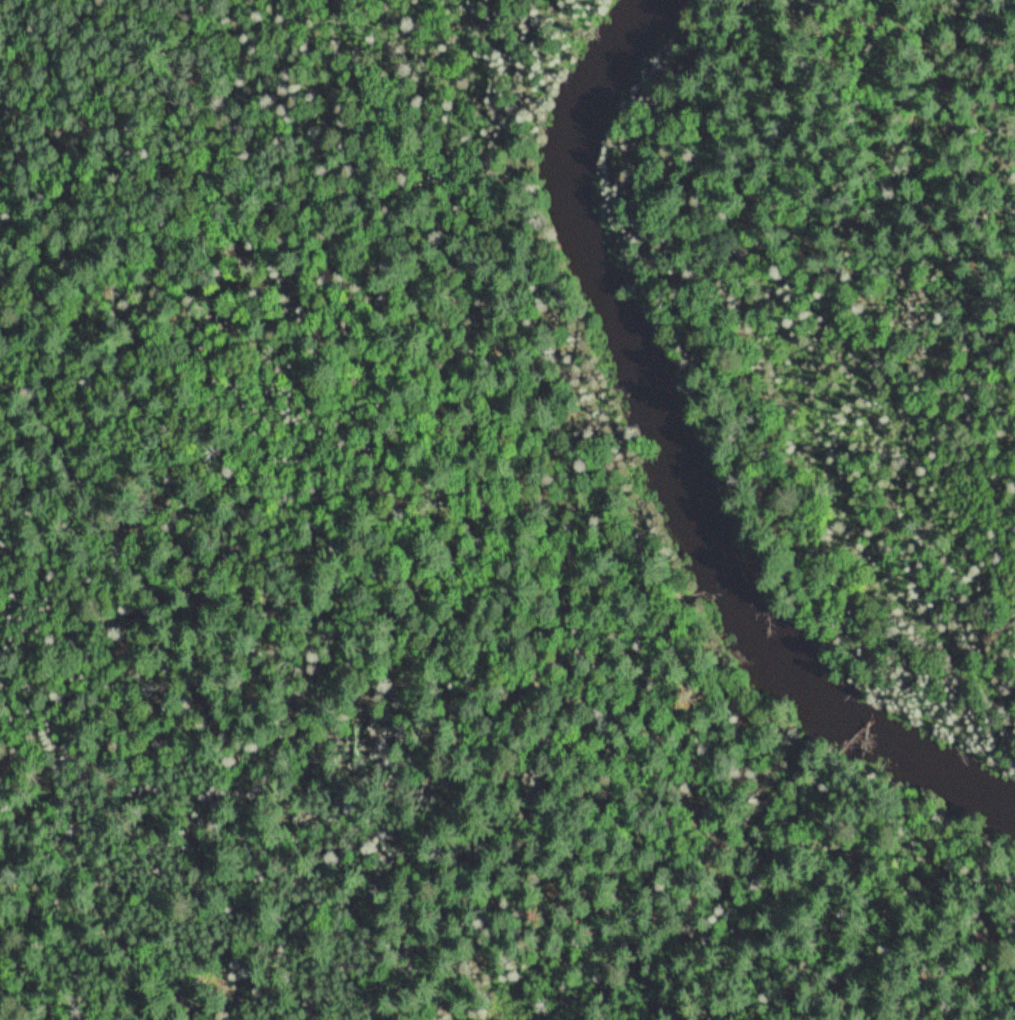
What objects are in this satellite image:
river: (693, 452)

